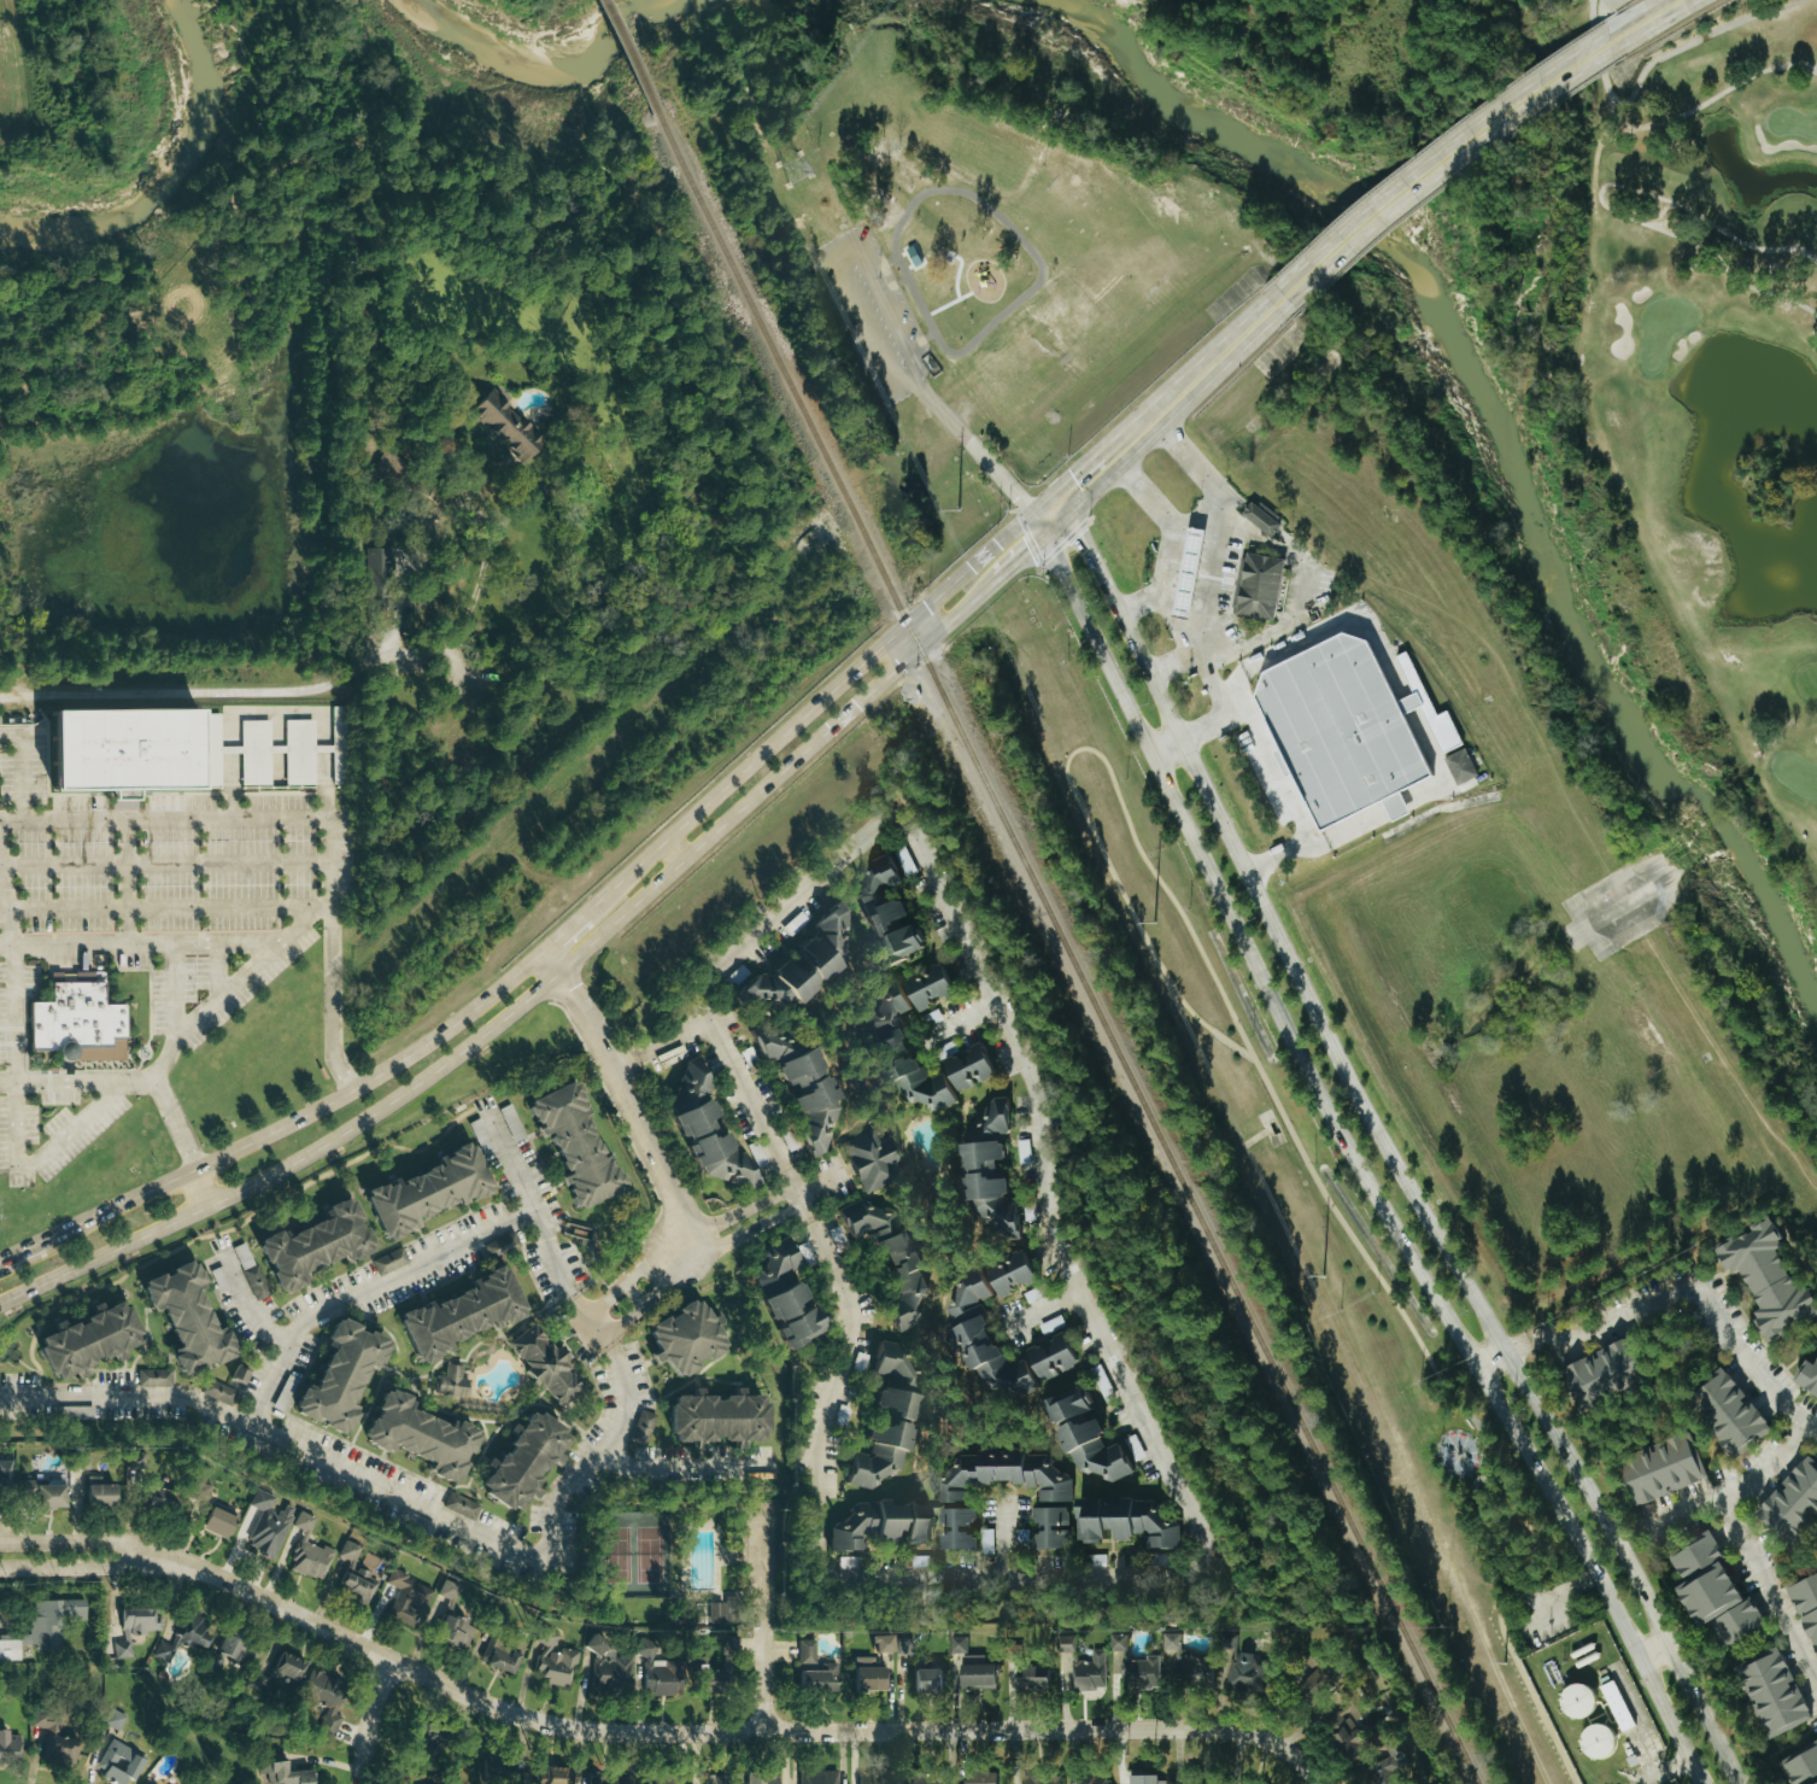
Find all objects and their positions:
road: (1639, 17)
railway: (626, 57)
river: (546, 72)
road: (30, 76)
road: (1272, 100)
road: (1435, 157)
power tower: (792, 168)
river: (180, 181)
park: (959, 232)
road: (1217, 351)
building: (506, 425)
river: (1497, 425)
road: (1101, 462)
road: (994, 466)
road: (1191, 499)
road: (477, 509)
power tower: (959, 513)
traffic signals: (1045, 517)
building: (1264, 517)
road: (1172, 530)
road: (1025, 550)
road: (1297, 558)
building: (1188, 563)
road: (1209, 573)
building: (1260, 578)
road: (1108, 583)
parking lot: (1227, 587)
road: (1173, 618)
road: (1337, 621)
road: (1209, 677)
road: (201, 691)
building: (1426, 700)
road: (1406, 701)
road: (810, 708)
road: (1223, 712)
building: (1341, 720)
building: (122, 748)
road: (1171, 750)
road: (1072, 751)
building: (269, 754)
building: (1283, 755)
road: (1440, 762)
building: (1464, 766)
road: (1274, 767)
road: (22, 771)
building: (1397, 799)
road: (1400, 805)
road: (306, 815)
road: (1356, 824)
road: (1584, 832)
road: (1288, 852)
road: (673, 853)
road: (165, 860)
road: (125, 881)
parking lot: (159, 896)
road: (5, 899)
road: (169, 907)
building: (889, 913)
power tower: (1155, 924)
road: (564, 930)
road: (171, 942)
railway: (1066, 949)
road: (979, 964)
building: (804, 965)
road: (219, 971)
building: (931, 989)
road: (534, 992)
road: (228, 993)
building: (890, 1002)
road: (13, 1013)
road: (176, 1014)
road: (972, 1022)
building: (75, 1028)
road: (672, 1037)
building: (772, 1047)
road: (625, 1061)
building: (971, 1069)
building: (914, 1075)
road: (77, 1082)
road: (623, 1089)
building: (810, 1099)
building: (1000, 1115)
road: (304, 1116)
building: (514, 1123)
building: (707, 1128)
road: (182, 1142)
building: (564, 1142)
road: (1359, 1158)
road: (43, 1160)
building: (873, 1160)
building: (992, 1189)
building: (417, 1192)
road: (799, 1193)
park: (1285, 1194)
road: (739, 1217)
road: (1438, 1228)
building: (306, 1244)
road: (19, 1256)
building: (890, 1256)
building: (389, 1262)
building: (250, 1271)
road: (631, 1274)
building: (1009, 1275)
power tower: (1323, 1279)
building: (218, 1280)
building: (1770, 1280)
road: (649, 1293)
road: (362, 1294)
road: (1672, 1294)
building: (784, 1295)
road: (250, 1305)
road: (1042, 1310)
building: (453, 1314)
building: (180, 1315)
building: (675, 1338)
building: (80, 1339)
building: (983, 1340)
building: (1050, 1357)
building: (891, 1363)
building: (544, 1365)
building: (1604, 1374)
building: (235, 1375)
road: (840, 1376)
building: (1807, 1376)
building: (152, 1378)
building: (333, 1379)
building: (450, 1381)
building: (217, 1392)
road: (5, 1400)
road: (1465, 1411)
building: (1729, 1412)
building: (708, 1417)
building: (640, 1427)
building: (412, 1435)
building: (1085, 1438)
road: (1477, 1438)
building: (881, 1439)
building: (516, 1458)
building: (78, 1461)
building: (135, 1461)
road: (669, 1467)
building: (1663, 1469)
building: (5, 1475)
building: (96, 1492)
building: (43, 1493)
building: (1054, 1496)
building: (156, 1498)
building: (1793, 1501)
building: (459, 1507)
building: (217, 1520)
building: (1125, 1522)
building: (266, 1523)
building: (878, 1525)
building: (956, 1528)
road: (1004, 1537)
building: (1020, 1538)
road: (82, 1542)
road: (1757, 1548)
road: (509, 1550)
building: (307, 1551)
park: (669, 1561)
road: (82, 1566)
building: (354, 1574)
road: (1006, 1574)
building: (1713, 1593)
road: (1557, 1596)
building: (405, 1598)
building: (441, 1603)
building: (1806, 1604)
building: (726, 1610)
parking lot: (1543, 1618)
road: (762, 1620)
building: (49, 1622)
building: (134, 1627)
building: (452, 1632)
building: (183, 1637)
building: (545, 1638)
building: (883, 1644)
building: (593, 1645)
building: (726, 1645)
building: (904, 1645)
building: (956, 1645)
building: (7, 1648)
road: (1654, 1648)
building: (225, 1651)
building: (500, 1654)
building: (1186, 1661)
building: (287, 1667)
building: (553, 1667)
building: (1133, 1667)
building: (1242, 1667)
power tower: (1504, 1667)
building: (813, 1668)
building: (610, 1672)
building: (975, 1672)
building: (1088, 1672)
building: (657, 1673)
building: (867, 1675)
building: (1032, 1679)
building: (926, 1680)
building: (1315, 1685)
building: (1774, 1692)
building: (322, 1701)
building: (1577, 1701)
building: (1616, 1706)
building: (111, 1719)
road: (370, 1720)
building: (1347, 1727)
road: (652, 1730)
road: (1256, 1735)
building: (53, 1738)
road: (1642, 1741)
building: (1596, 1742)
building: (7, 1747)
building: (420, 1747)
building: (1387, 1759)
building: (117, 1763)
building: (1801, 1766)
building: (483, 1770)
building: (282, 1773)
building: (557, 1776)
building: (816, 1777)
building: (875, 1777)
building: (978, 1778)
building: (720, 1779)
building: (761, 1779)
building: (1039, 1779)
building: (1088, 1779)
building: (930, 1780)
building: (1145, 1780)
building: (606, 1782)
building: (650, 1783)
building: (1194, 1783)
park: (1684, 1783)

